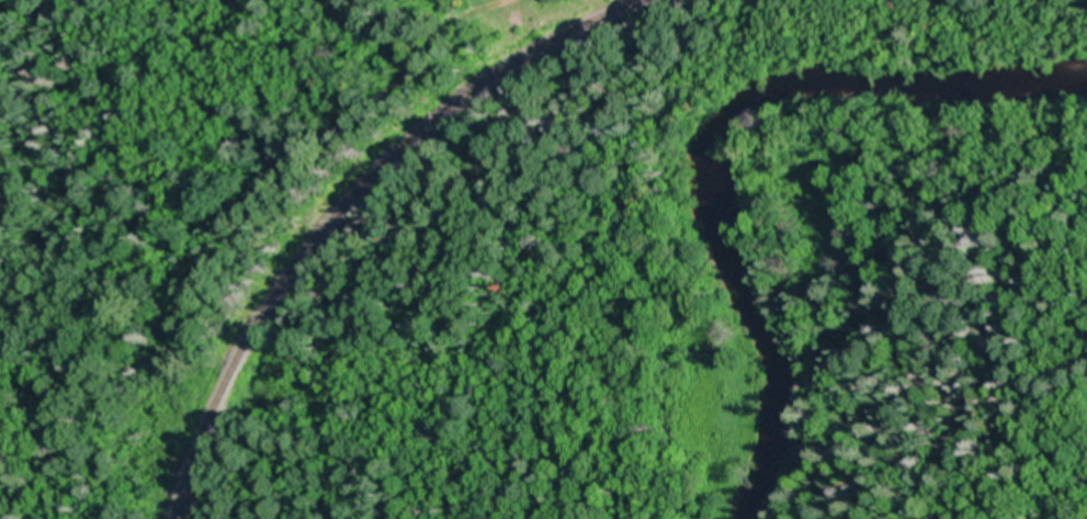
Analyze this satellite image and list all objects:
river: (714, 132)
road: (260, 185)
railway: (354, 198)

